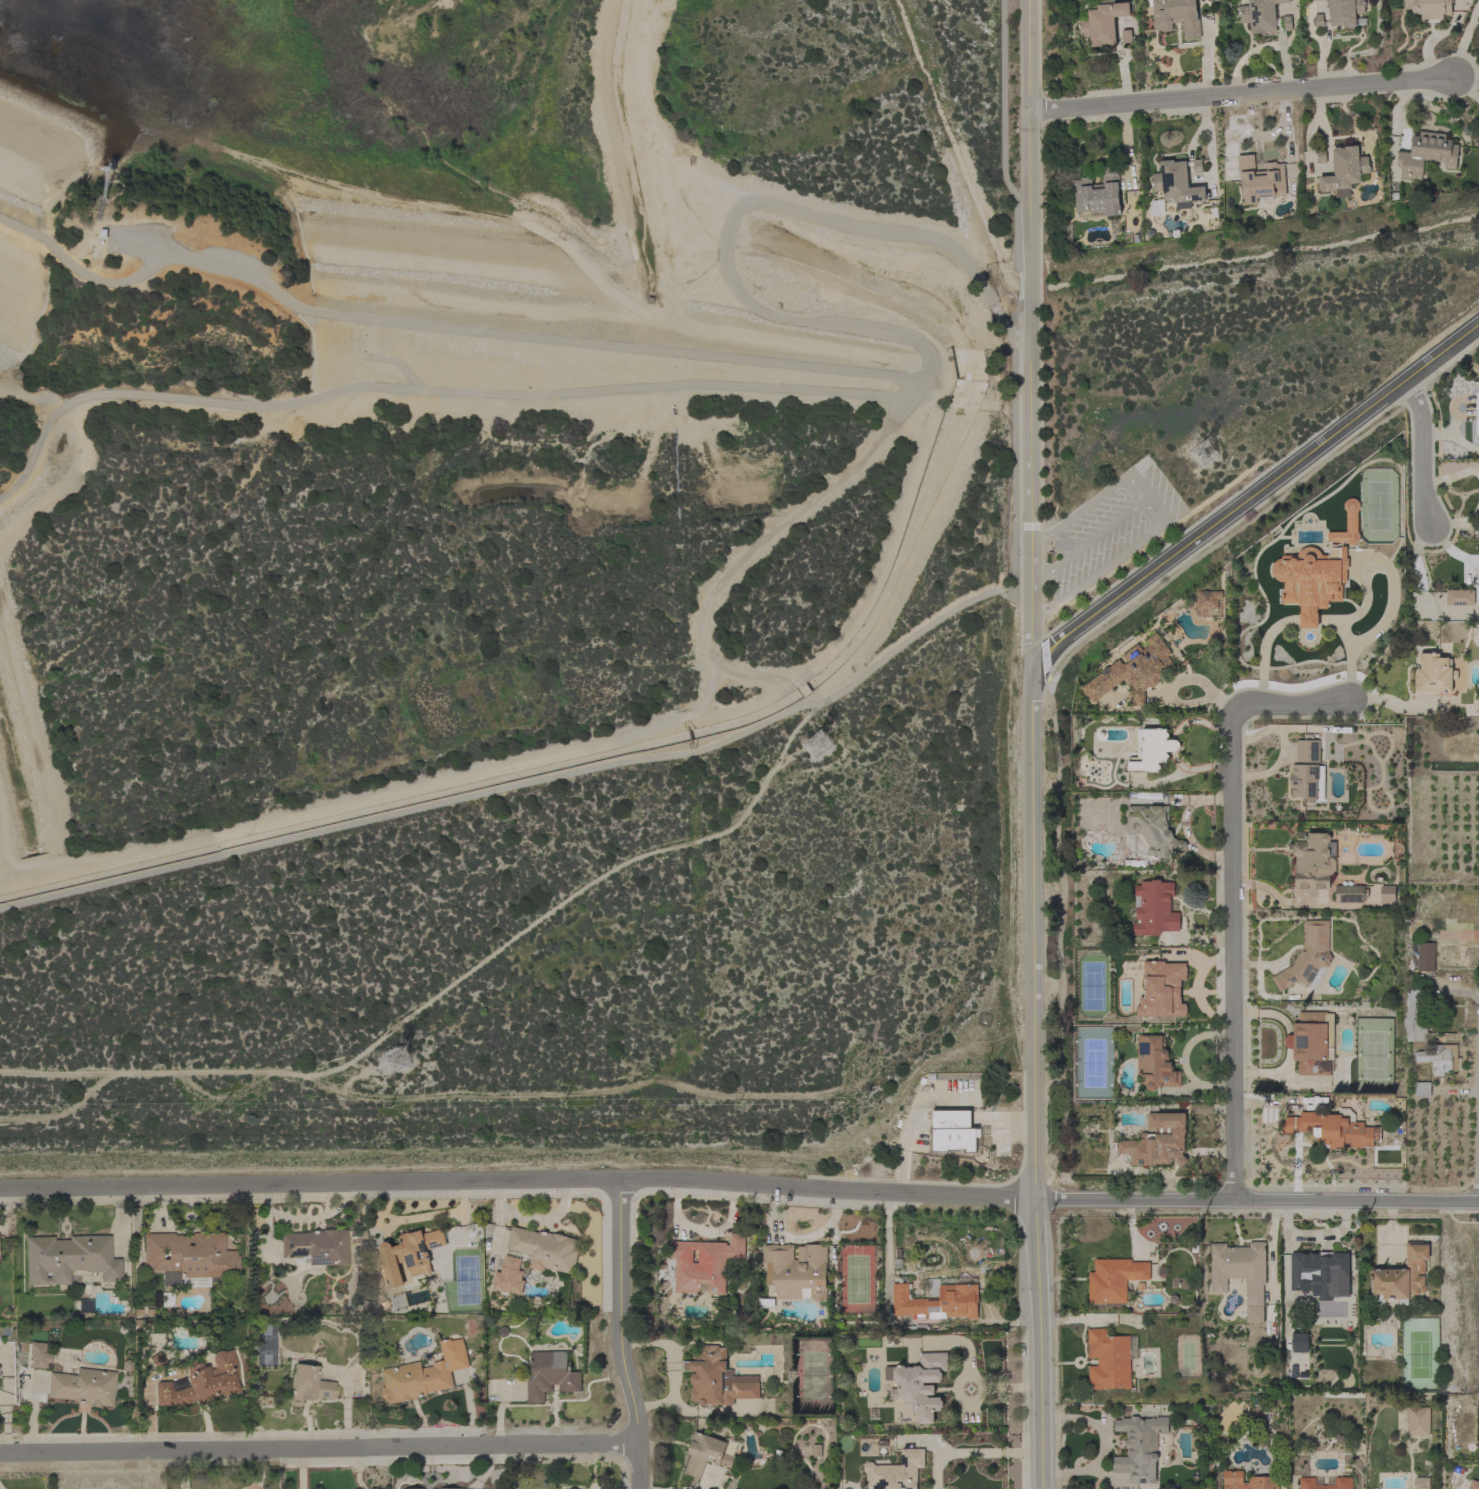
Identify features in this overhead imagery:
building: (1316, 0)
building: (1428, 8)
building: (1344, 12)
building: (1176, 16)
building: (1263, 16)
building: (1102, 22)
road: (1436, 35)
building: (1126, 37)
road: (1462, 40)
road: (1240, 92)
road: (1395, 126)
road: (1207, 146)
building: (1426, 154)
road: (1126, 156)
building: (1195, 165)
building: (1344, 171)
building: (1260, 181)
building: (1175, 183)
building: (1098, 193)
road: (731, 218)
dam: (442, 327)
road: (1028, 334)
road: (1452, 367)
road: (432, 389)
road: (1415, 399)
road: (1422, 451)
power tower: (1203, 454)
road: (1012, 460)
road: (65, 480)
road: (1252, 494)
road: (1141, 496)
road: (1026, 526)
parking lot: (1105, 527)
road: (1108, 563)
building: (1317, 572)
road: (1041, 581)
road: (1015, 588)
building: (1459, 597)
building: (1208, 599)
road: (1308, 621)
road: (1348, 649)
road: (1262, 653)
building: (1133, 672)
building: (1434, 674)
road: (758, 680)
road: (1050, 708)
road: (31, 742)
power tower: (815, 746)
building: (1151, 751)
building: (1307, 772)
road: (515, 785)
road: (388, 795)
building: (1153, 830)
road: (5, 846)
building: (1312, 860)
building: (1351, 893)
building: (1386, 894)
road: (1236, 901)
building: (1154, 908)
building: (1420, 957)
building: (1308, 958)
building: (1161, 990)
building: (1415, 1016)
building: (1312, 1043)
building: (1440, 1059)
power tower: (393, 1063)
building: (1154, 1063)
road: (1034, 1078)
building: (1422, 1089)
building: (1331, 1129)
building: (954, 1135)
building: (1157, 1142)
road: (518, 1179)
road: (1257, 1200)
building: (315, 1246)
building: (408, 1255)
building: (532, 1257)
building: (68, 1258)
building: (188, 1258)
building: (704, 1263)
building: (1238, 1269)
building: (1321, 1270)
building: (796, 1271)
building: (1401, 1277)
building: (1114, 1279)
building: (939, 1300)
road: (618, 1334)
building: (1299, 1342)
building: (37, 1354)
building: (1110, 1359)
building: (156, 1360)
road: (670, 1367)
building: (424, 1374)
building: (550, 1375)
building: (717, 1379)
road: (975, 1379)
building: (201, 1382)
building: (308, 1383)
building: (919, 1385)
building: (82, 1386)
building: (1418, 1421)
building: (1140, 1447)
road: (318, 1448)
building: (706, 1454)
road: (973, 1454)
building: (896, 1471)
building: (1263, 1480)
building: (1326, 1483)
building: (1422, 1483)
building: (1473, 1484)
building: (449, 1488)

